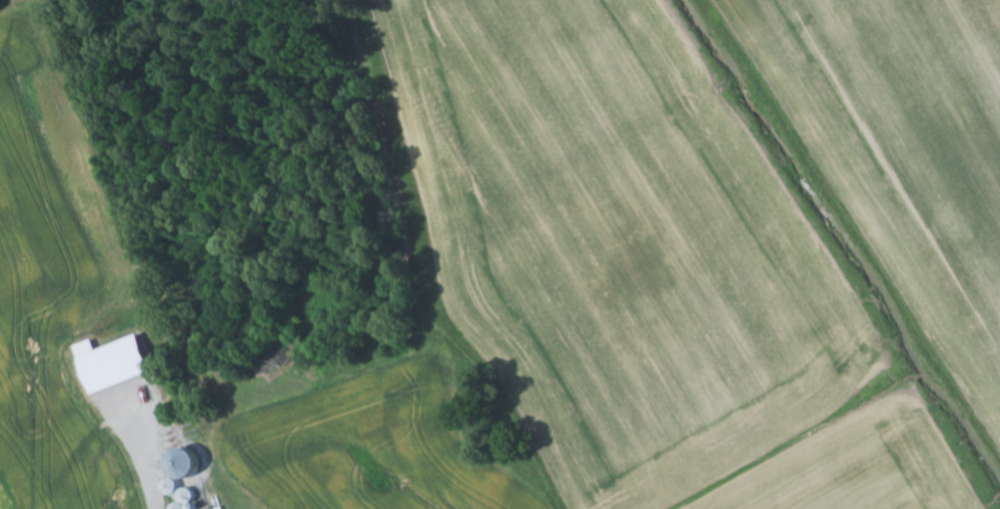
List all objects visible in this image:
building: (117, 363)
building: (184, 460)

